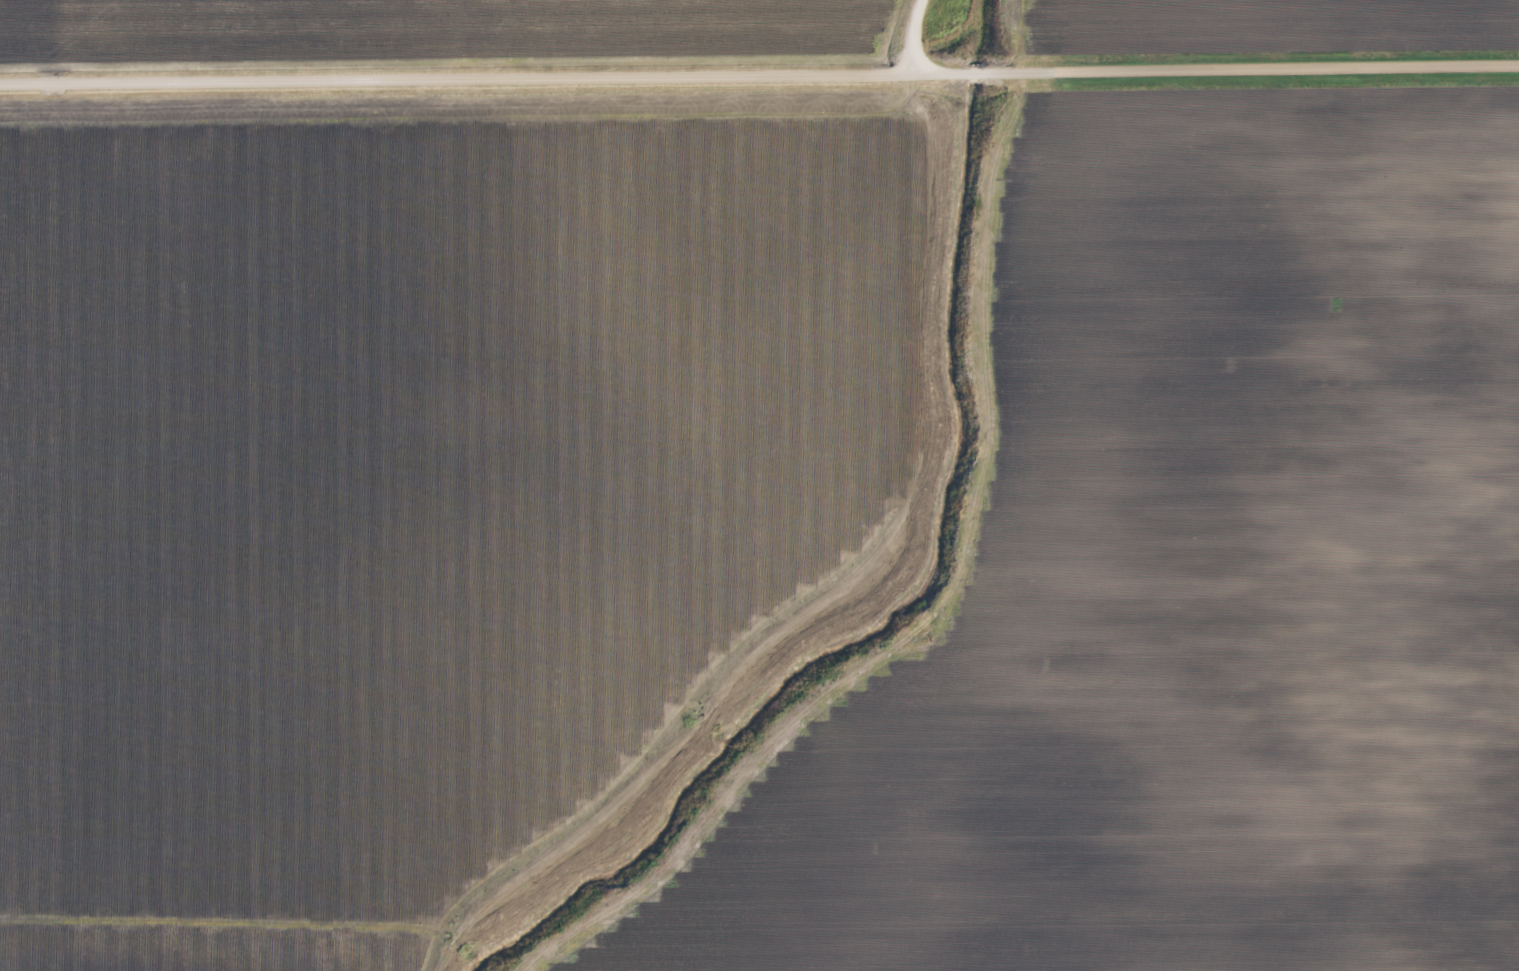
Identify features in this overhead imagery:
road: (759, 68)

